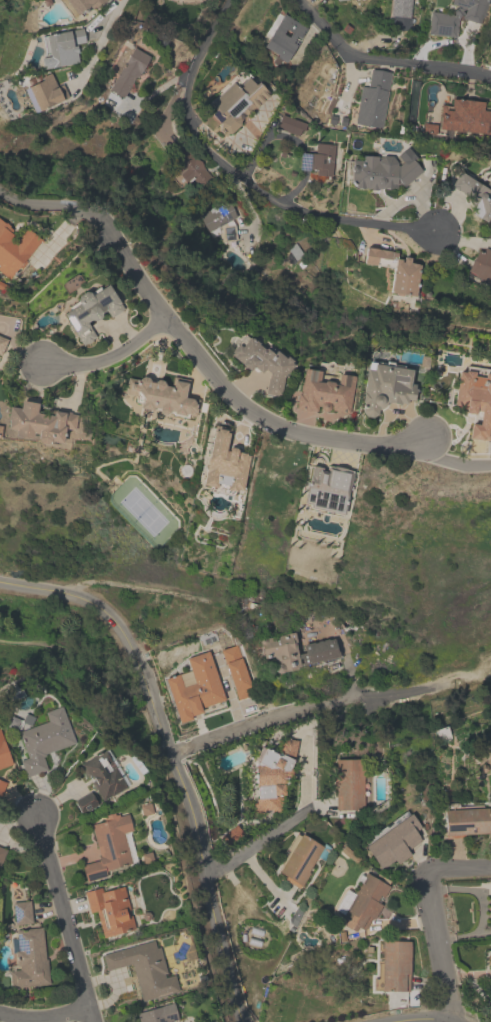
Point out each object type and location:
building: (80, 5)
building: (400, 7)
building: (455, 17)
building: (283, 37)
road: (98, 41)
building: (59, 48)
road: (382, 61)
building: (127, 71)
building: (43, 92)
building: (372, 99)
building: (236, 102)
building: (465, 116)
building: (321, 159)
building: (182, 166)
building: (383, 170)
road: (239, 175)
building: (474, 194)
road: (50, 204)
building: (216, 214)
road: (110, 235)
building: (14, 248)
building: (481, 265)
building: (393, 268)
building: (89, 310)
building: (2, 342)
road: (108, 357)
building: (263, 362)
building: (384, 385)
building: (323, 392)
building: (161, 395)
road: (240, 401)
building: (474, 401)
building: (38, 422)
road: (451, 463)
building: (223, 464)
building: (326, 486)
building: (294, 651)
building: (236, 671)
building: (194, 687)
road: (269, 717)
building: (43, 740)
building: (3, 754)
road: (171, 759)
building: (103, 772)
road: (303, 774)
building: (271, 777)
building: (1, 784)
building: (347, 784)
building: (85, 802)
building: (465, 821)
building: (231, 834)
road: (257, 841)
building: (393, 842)
building: (108, 846)
building: (1, 851)
building: (297, 859)
building: (359, 901)
building: (489, 907)
building: (109, 909)
building: (21, 912)
road: (430, 915)
road: (63, 918)
road: (402, 921)
building: (29, 959)
building: (394, 965)
building: (489, 966)
building: (143, 968)
building: (157, 1014)
road: (44, 1016)
road: (419, 1018)

